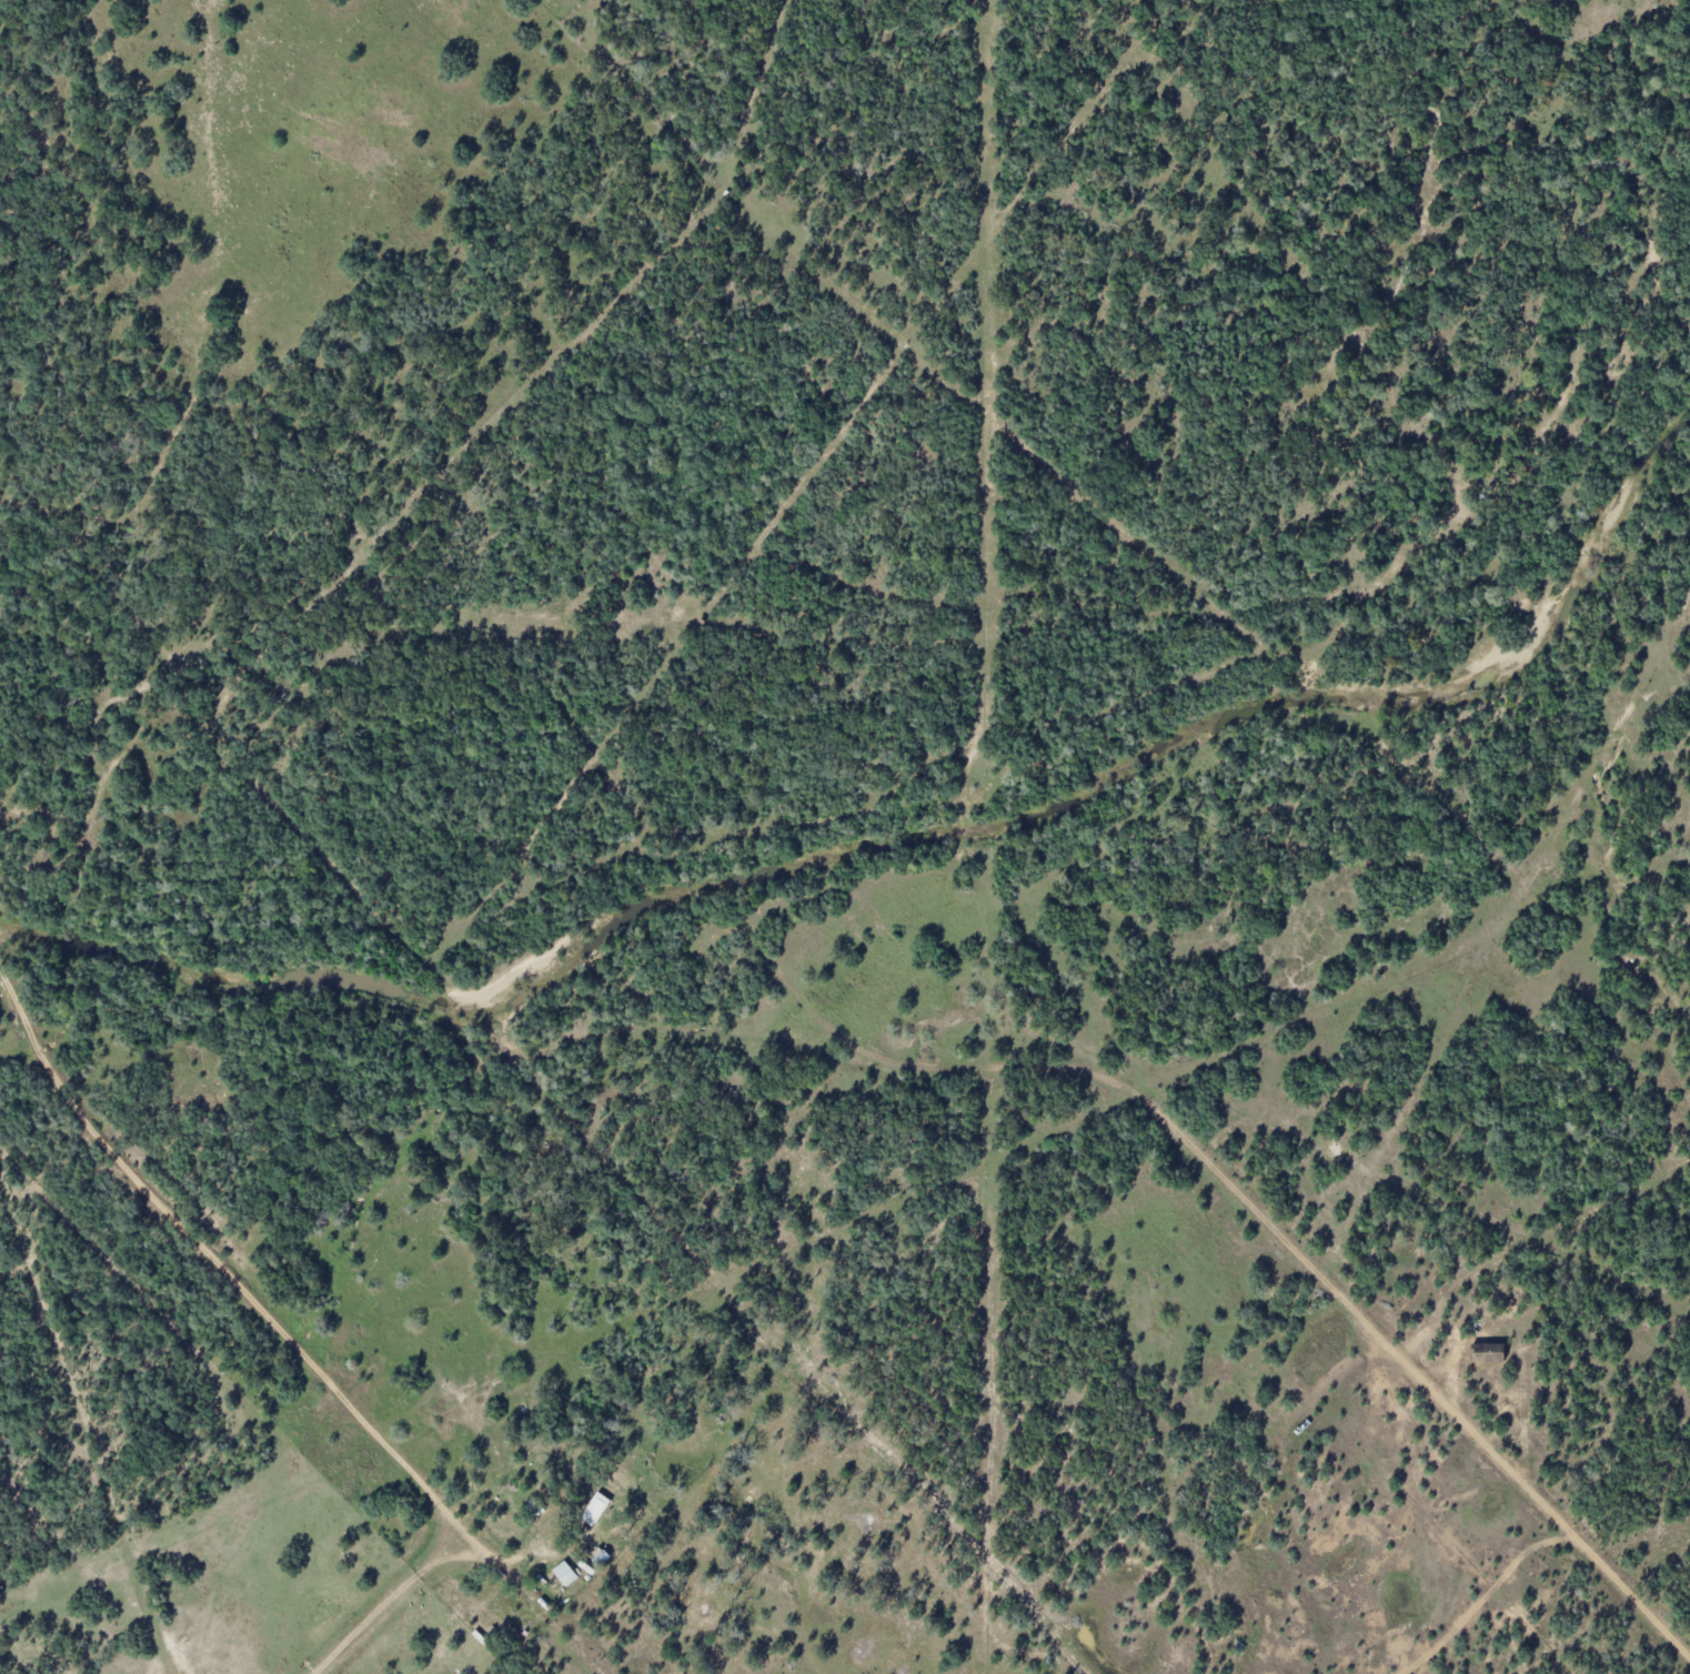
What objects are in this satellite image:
road: (252, 1309)
building: (1490, 1353)
building: (597, 1510)
building: (566, 1574)

